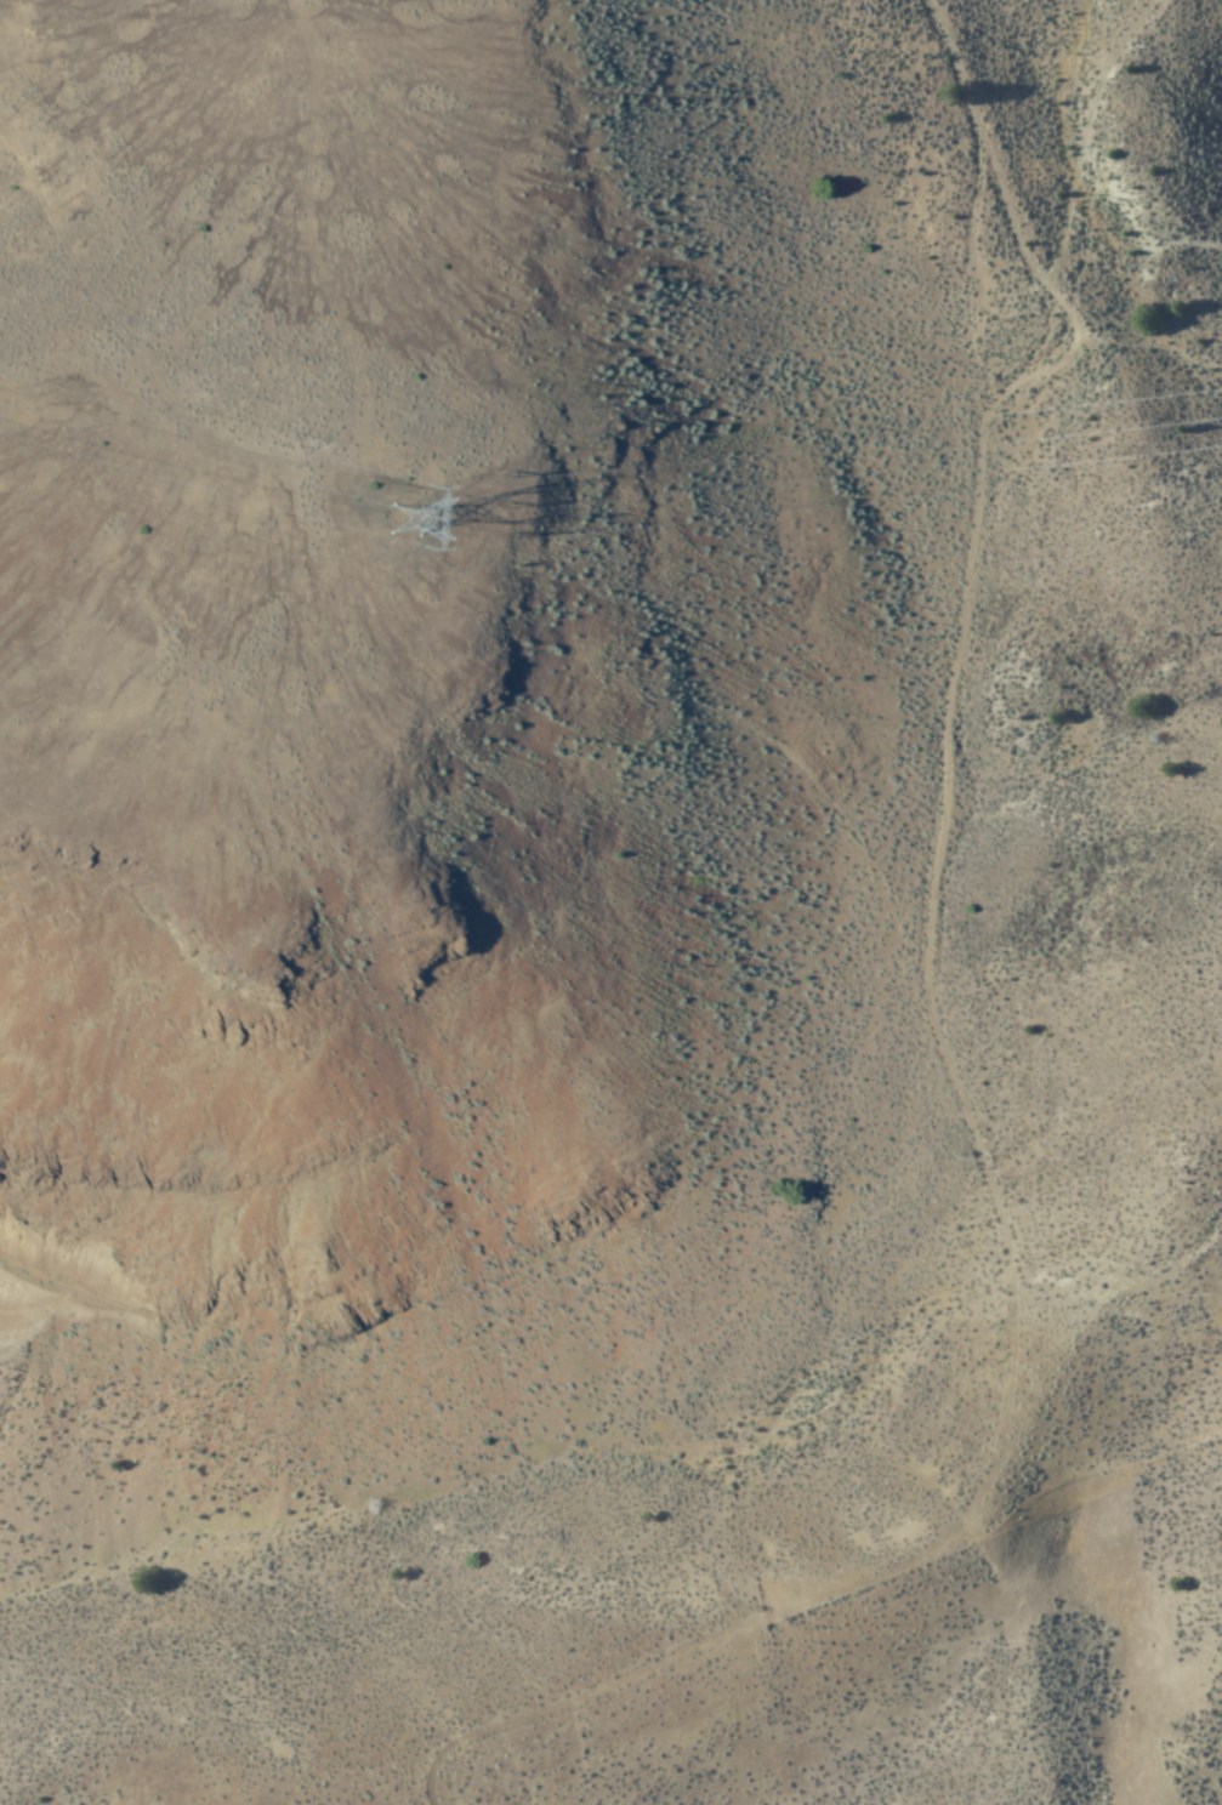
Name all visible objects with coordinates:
road: (1150, 360)
power tower: (417, 541)
road: (931, 1048)

